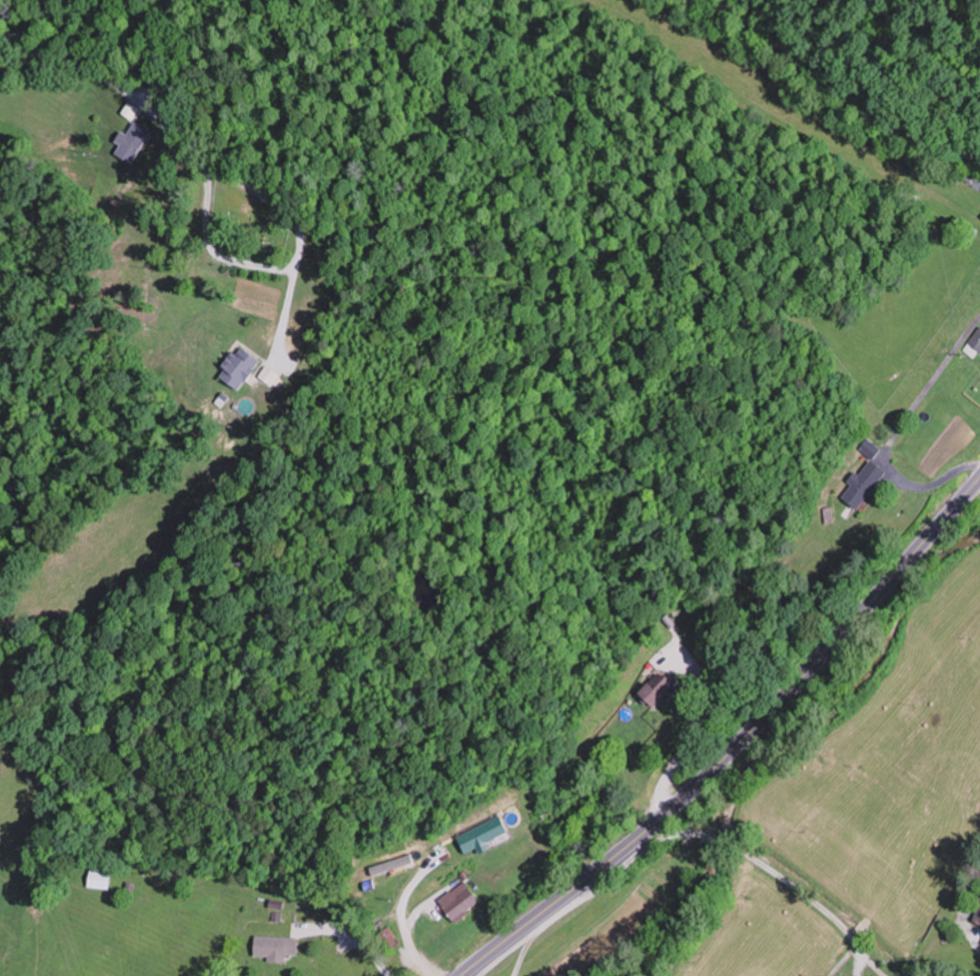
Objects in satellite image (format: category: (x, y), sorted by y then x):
road: (868, 71)
road: (109, 83)
building: (160, 84)
building: (133, 142)
park: (248, 223)
road: (298, 251)
building: (976, 341)
building: (241, 367)
building: (871, 449)
building: (865, 485)
building: (661, 689)
road: (737, 744)
building: (485, 835)
road: (718, 840)
road: (644, 852)
building: (100, 879)
road: (812, 901)
building: (461, 902)
building: (276, 948)
road: (929, 949)
road: (877, 974)

